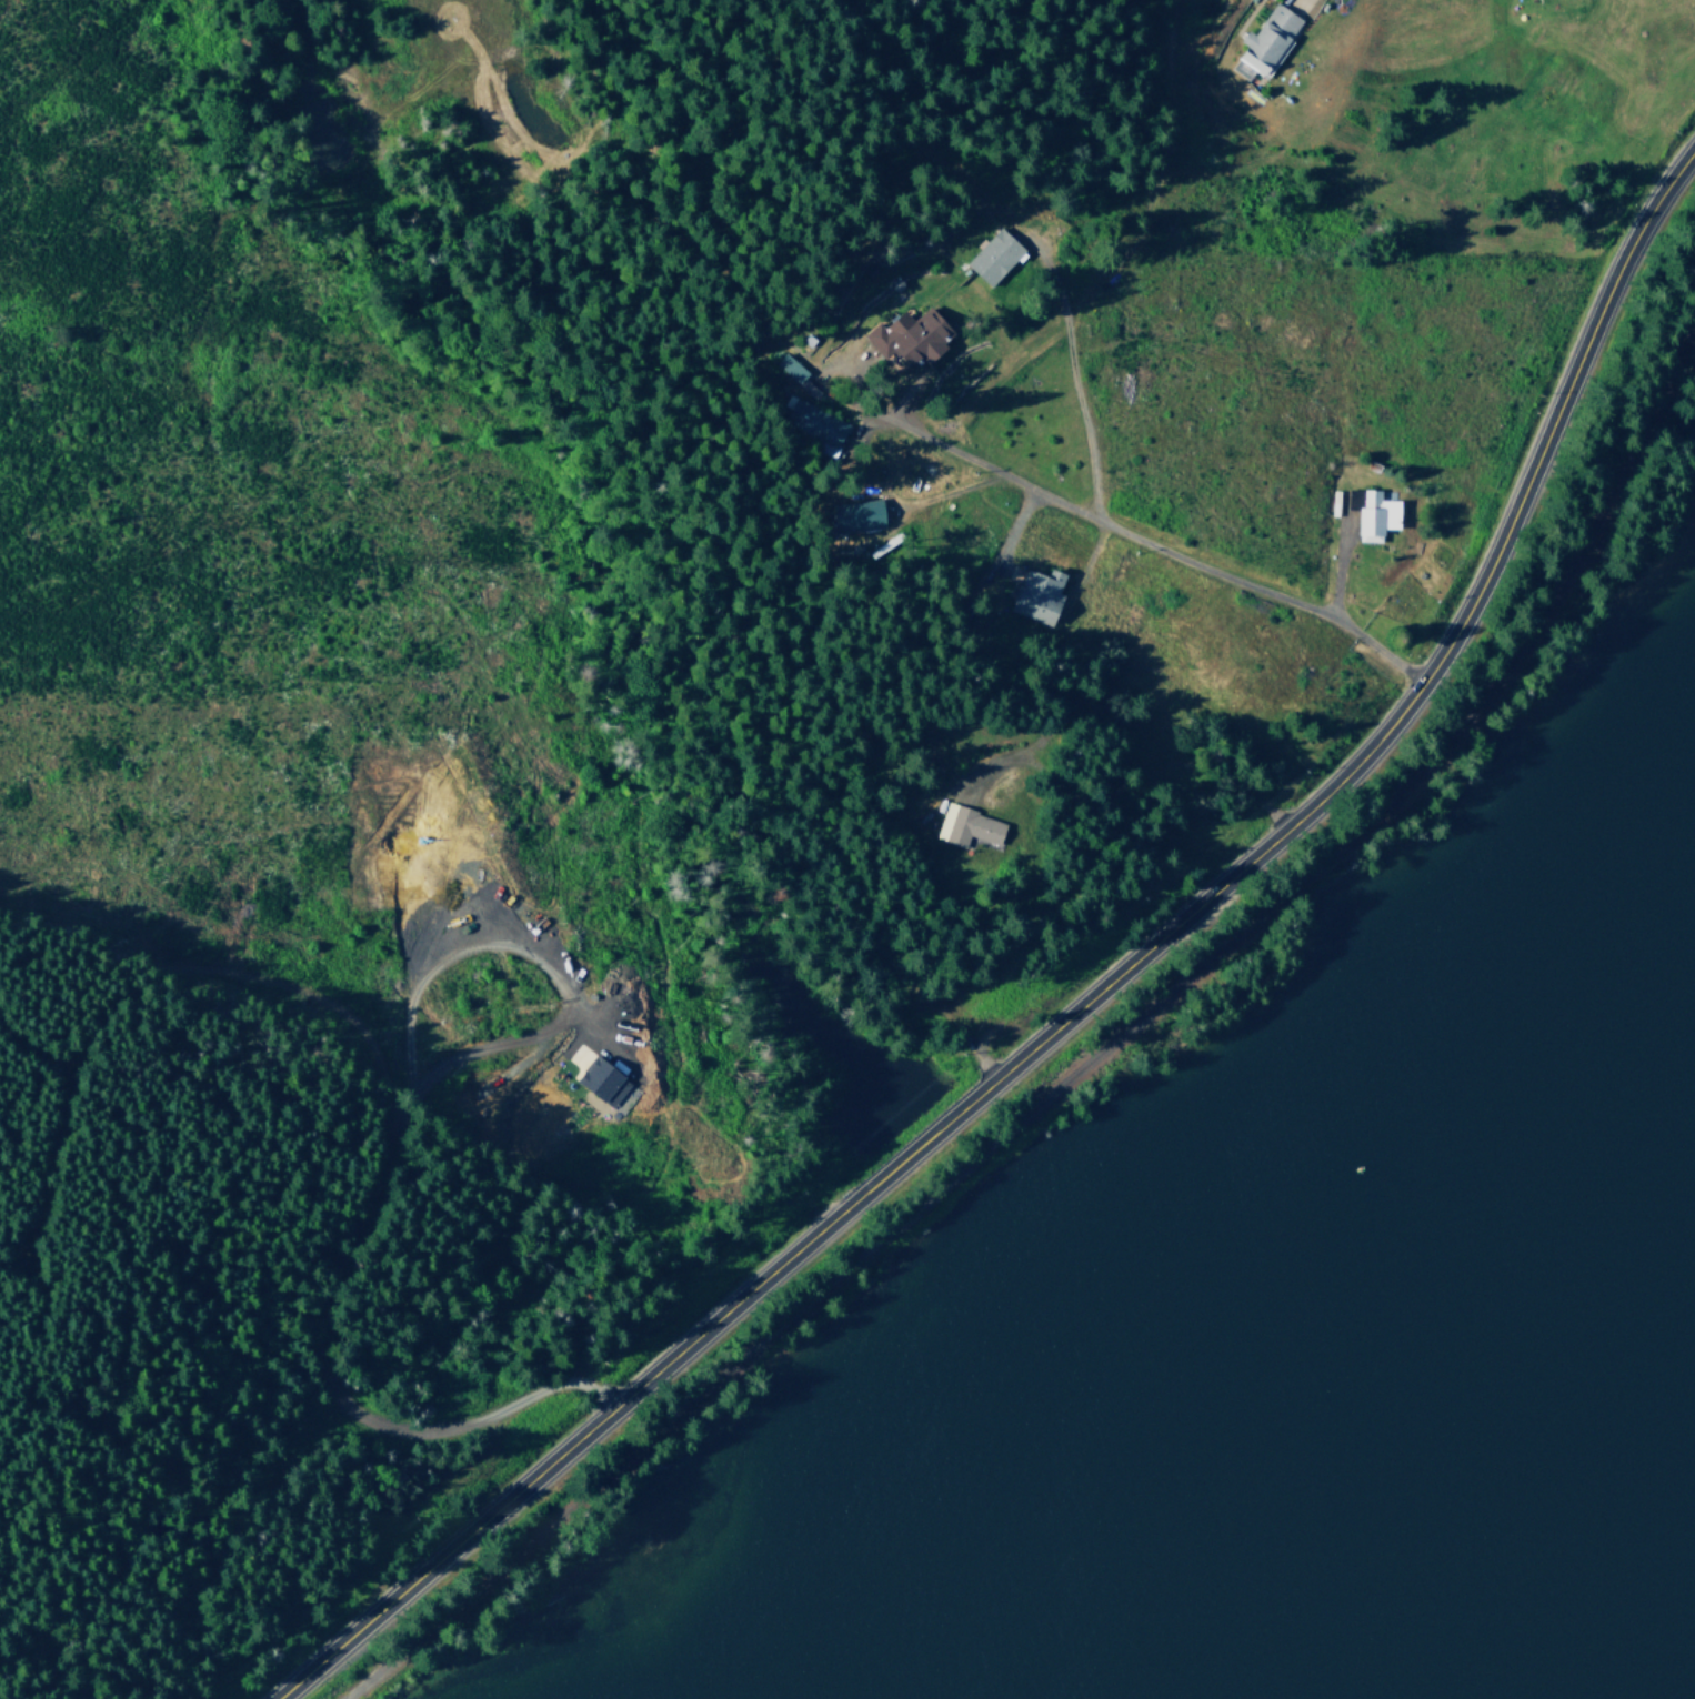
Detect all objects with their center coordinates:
building: (1265, 39)
building: (996, 255)
building: (912, 335)
building: (792, 366)
building: (1377, 514)
building: (860, 515)
road: (1120, 529)
building: (1041, 595)
building: (970, 826)
road: (1090, 1002)
road: (1076, 1077)
building: (605, 1082)

